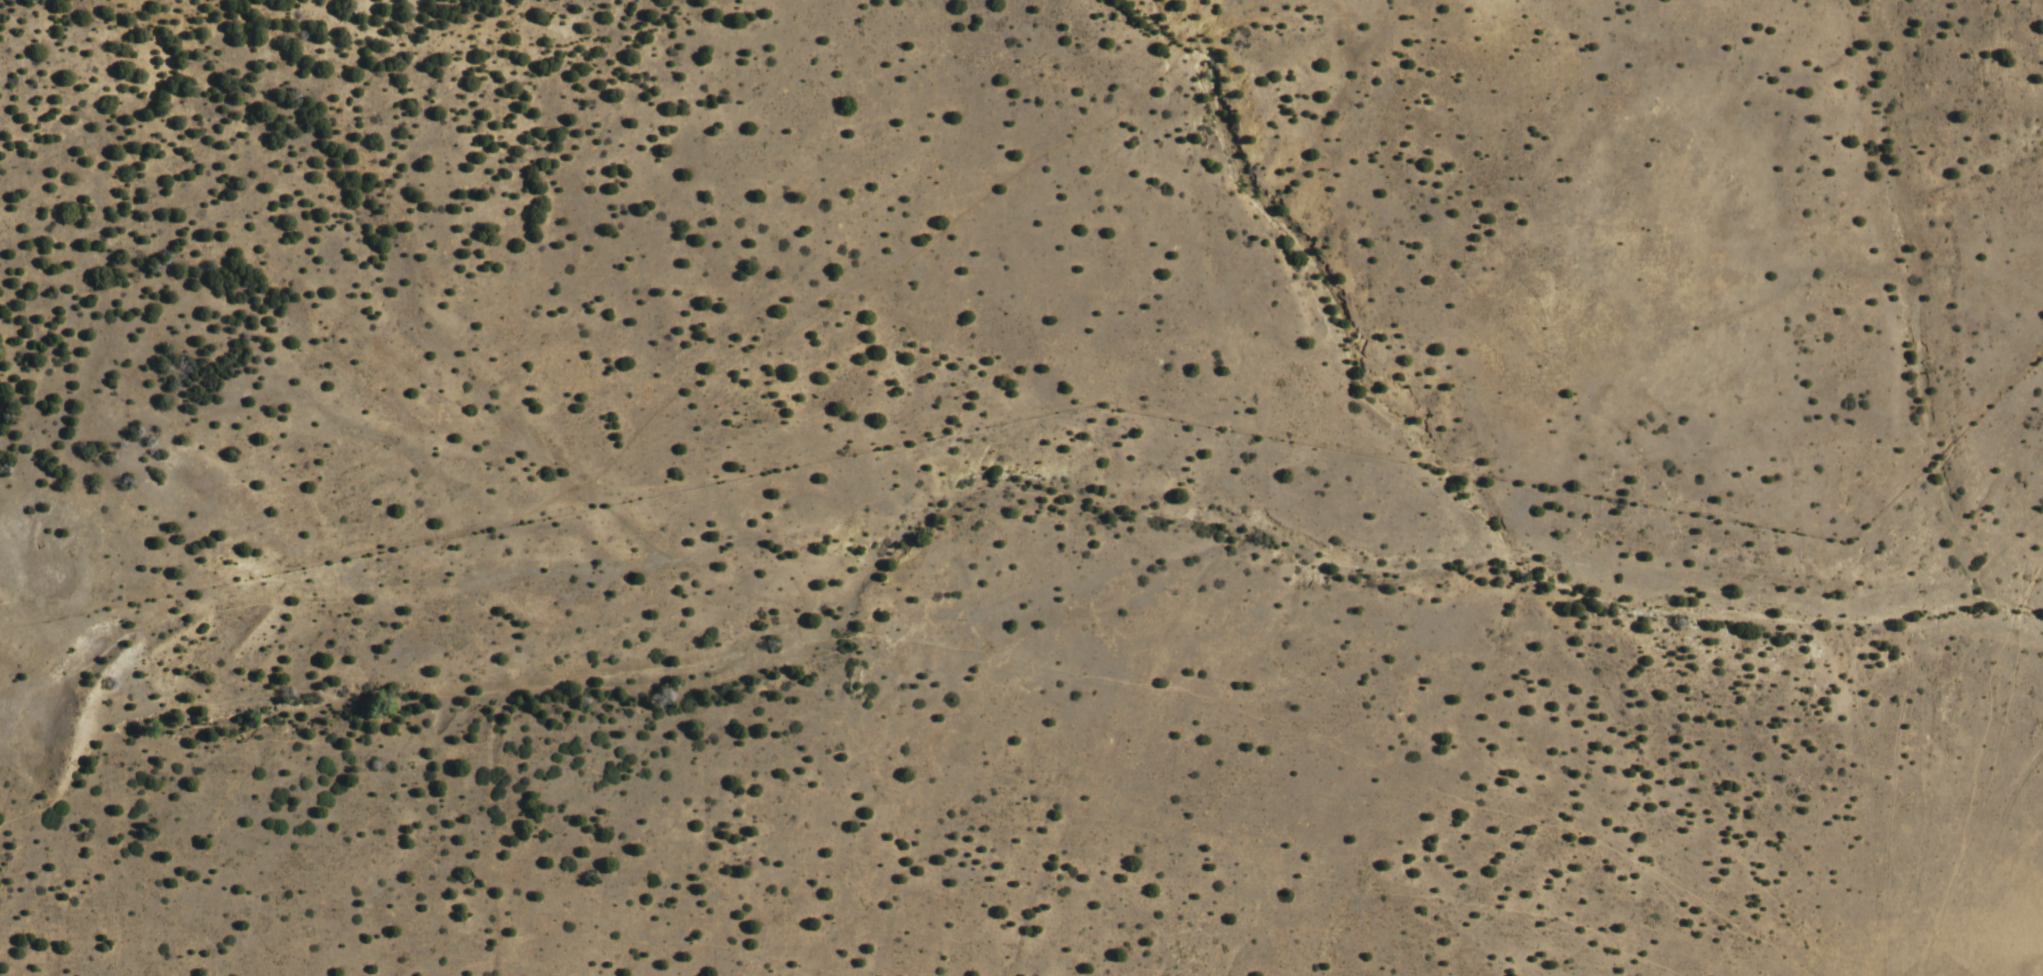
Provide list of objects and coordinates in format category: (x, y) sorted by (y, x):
road: (2001, 562)
road: (320, 842)
road: (1949, 859)

